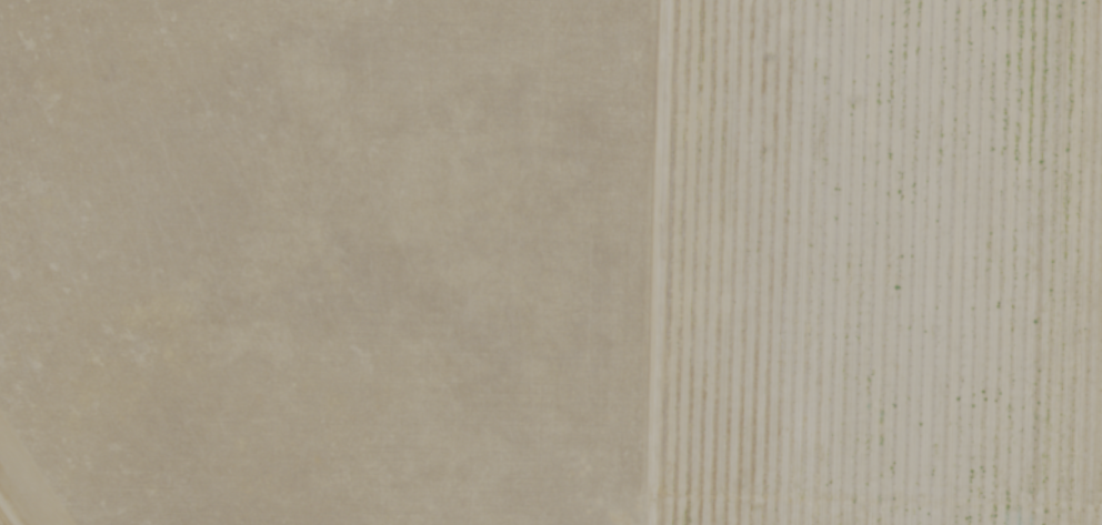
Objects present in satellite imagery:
crop: (552, 261)
road: (10, 509)

